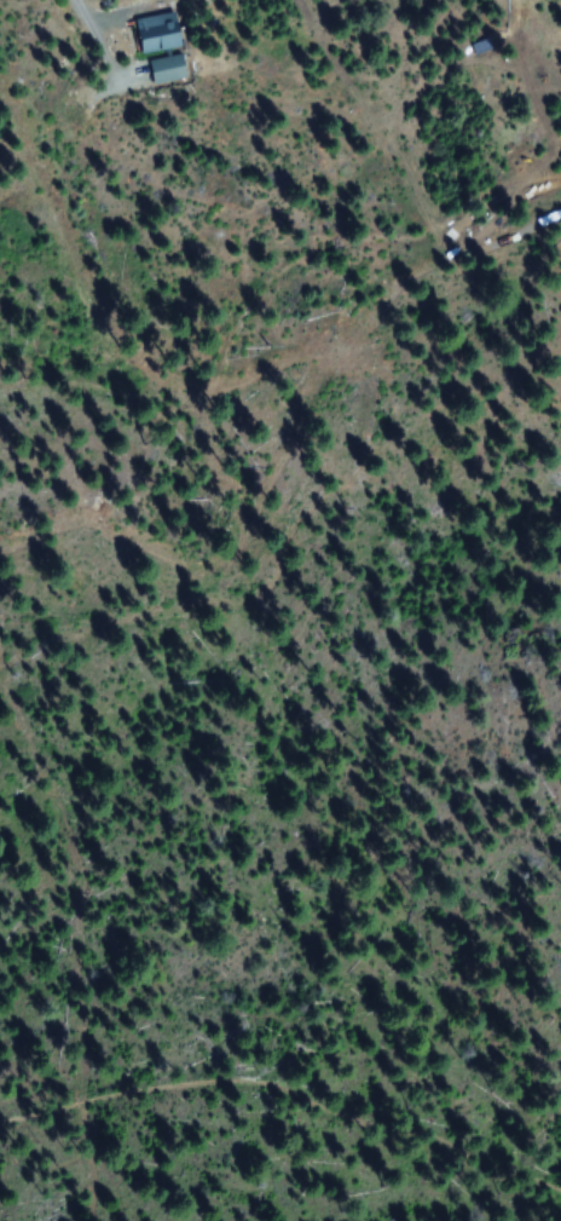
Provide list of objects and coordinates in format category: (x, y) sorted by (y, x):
building: (156, 35)

